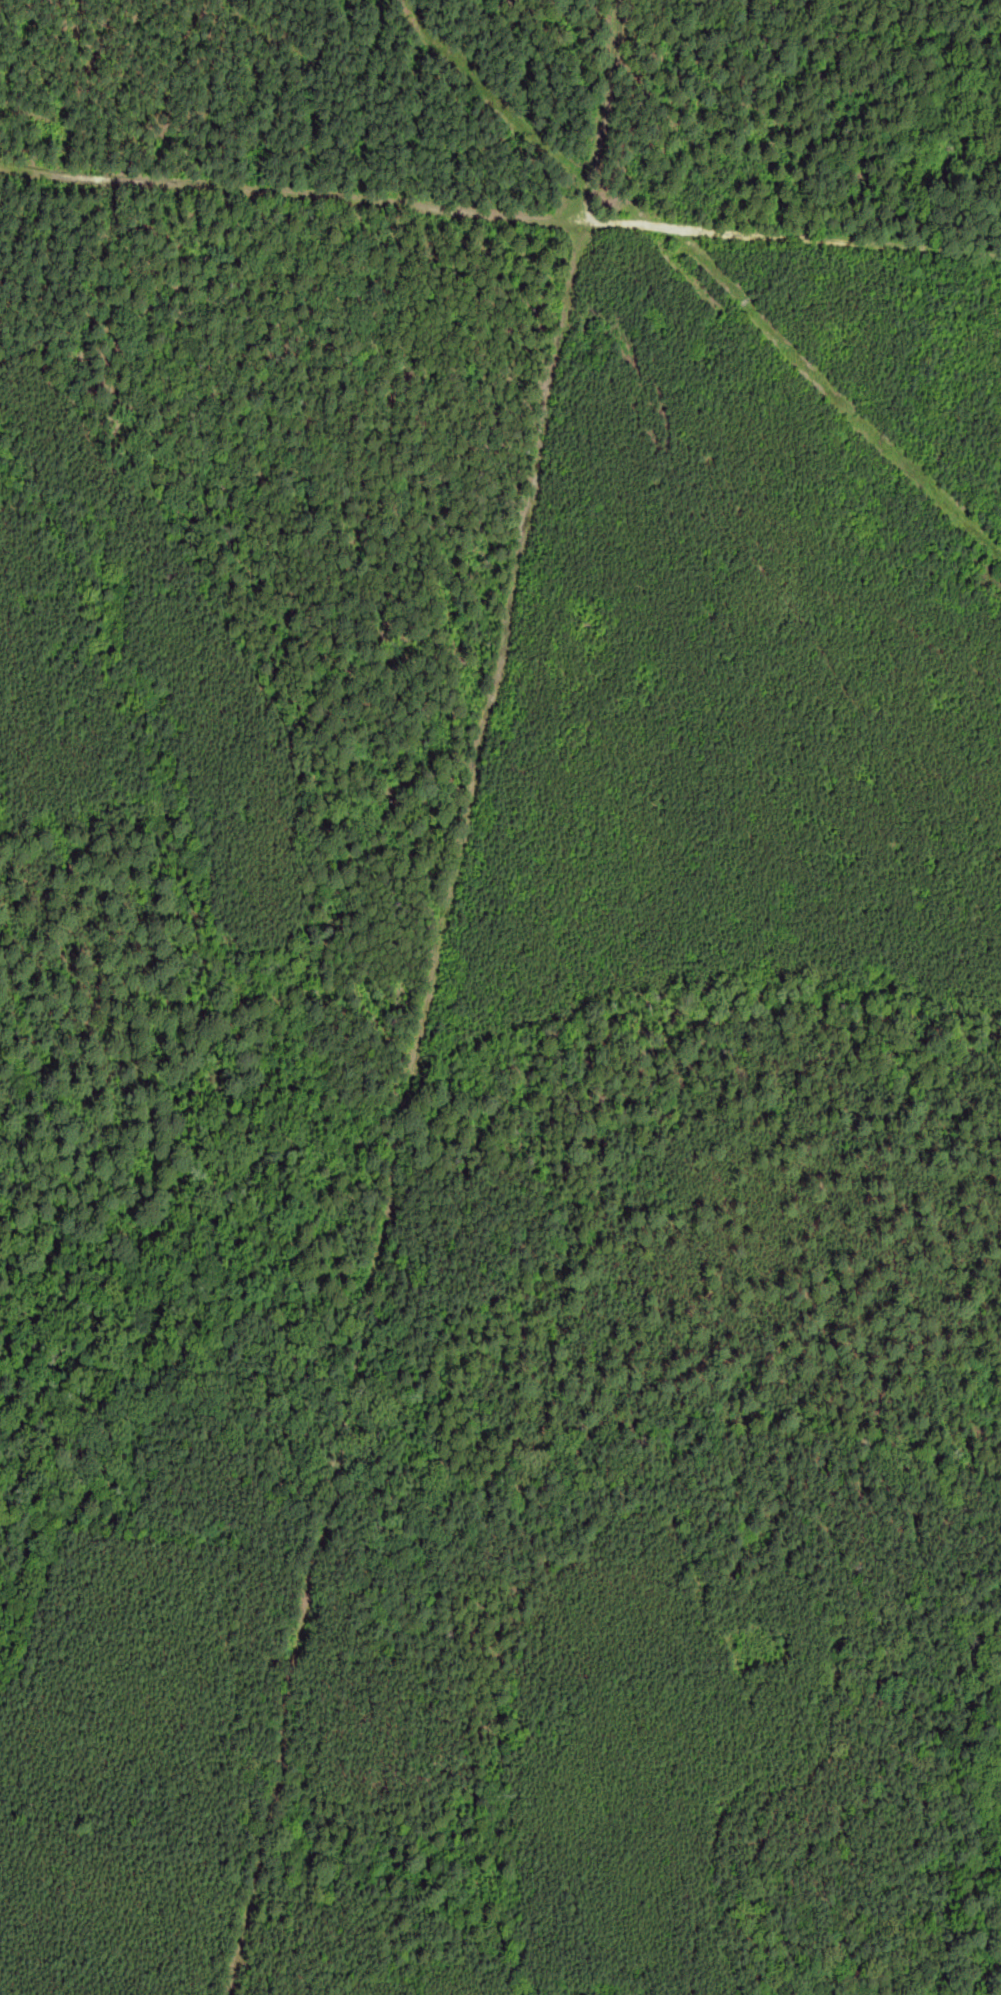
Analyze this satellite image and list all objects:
road: (499, 215)
road: (429, 995)

